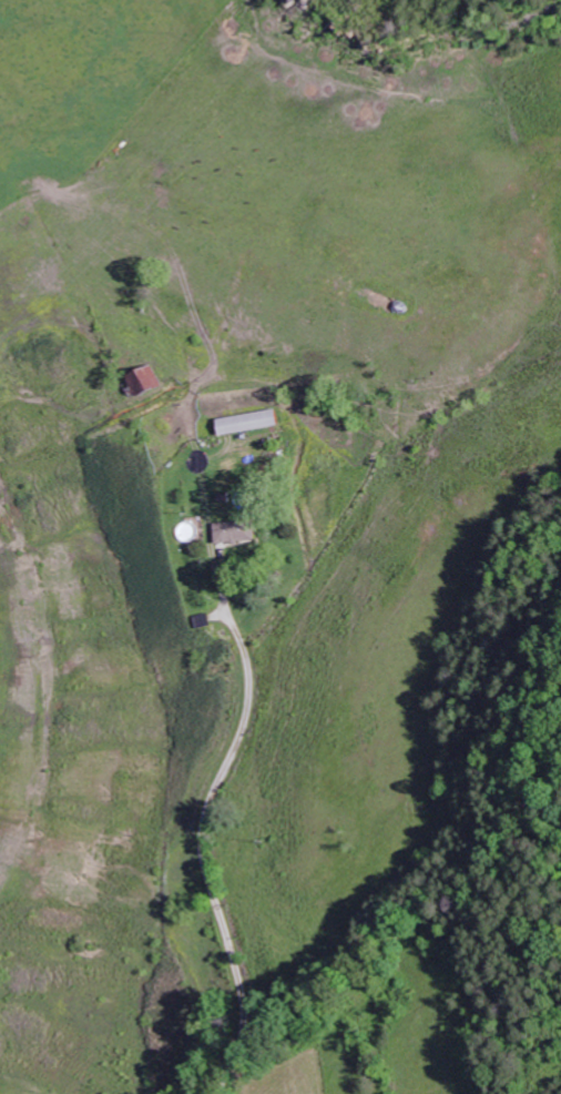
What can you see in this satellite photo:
building: (146, 383)
building: (251, 423)
building: (239, 533)
road: (207, 864)

